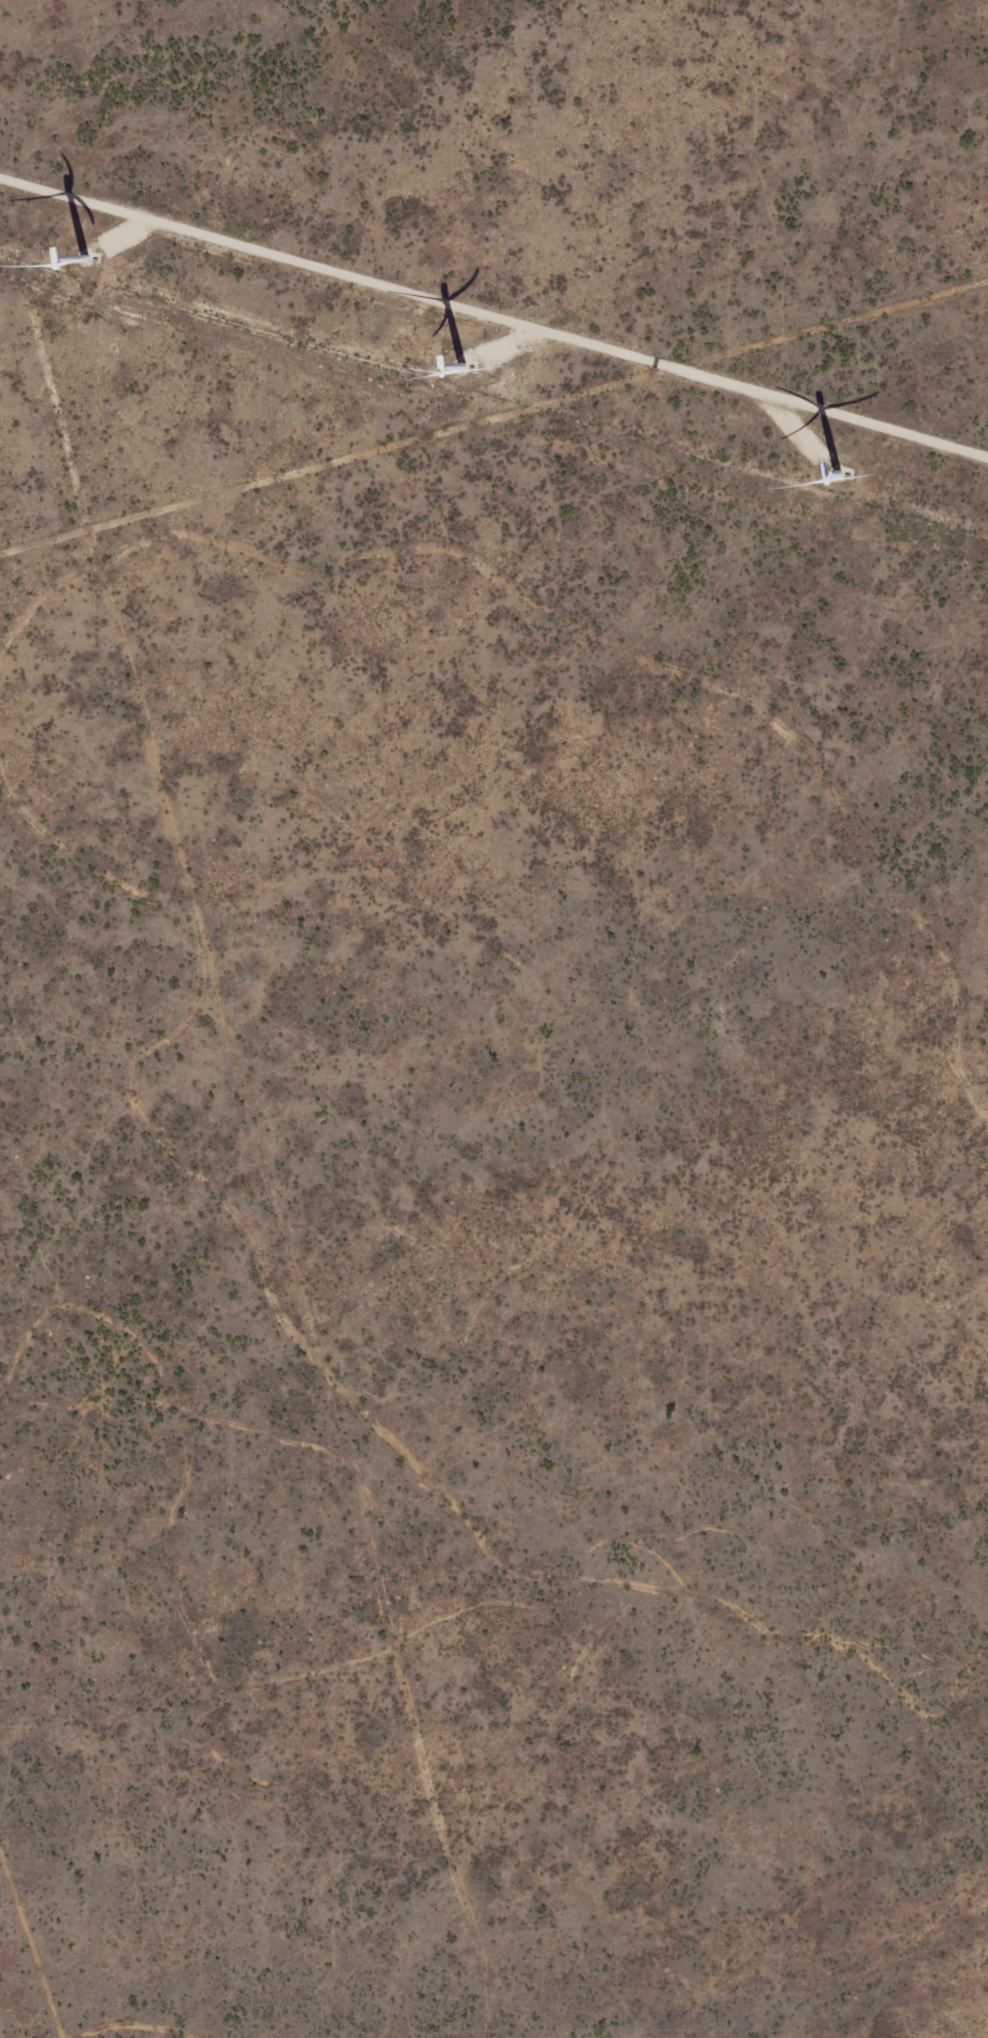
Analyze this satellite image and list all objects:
wind turbine: (125, 240)
wind turbine: (444, 385)
wind turbine: (819, 481)
road: (527, 537)
road: (247, 1070)

